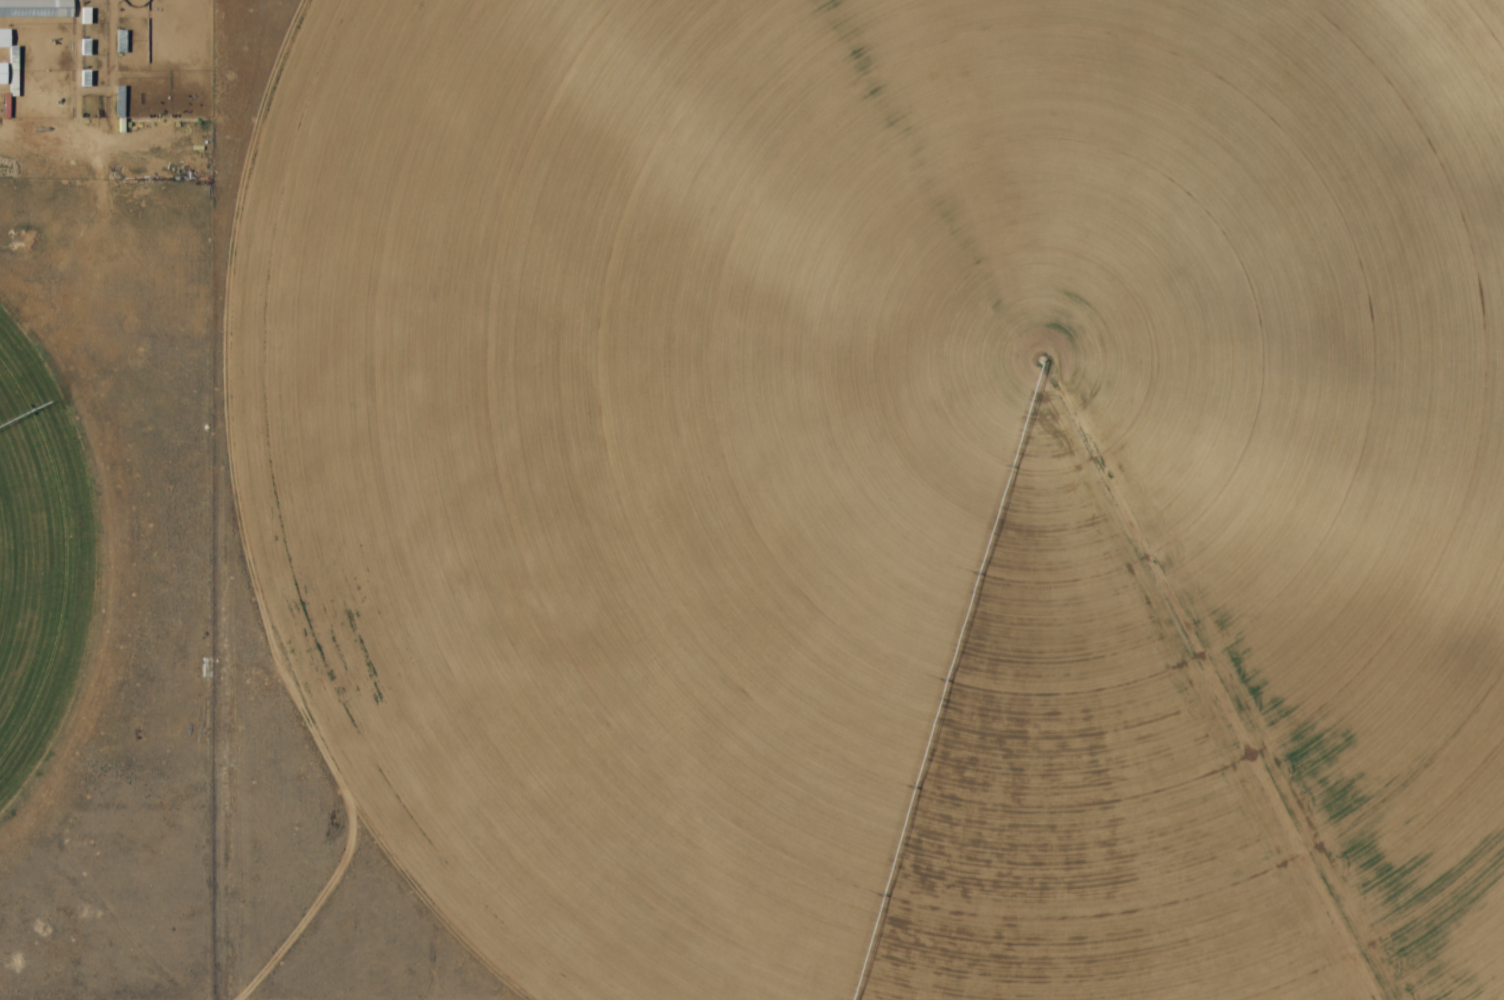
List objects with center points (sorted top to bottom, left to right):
building: (35, 9)
building: (4, 39)
crop: (907, 484)
crop: (41, 552)

